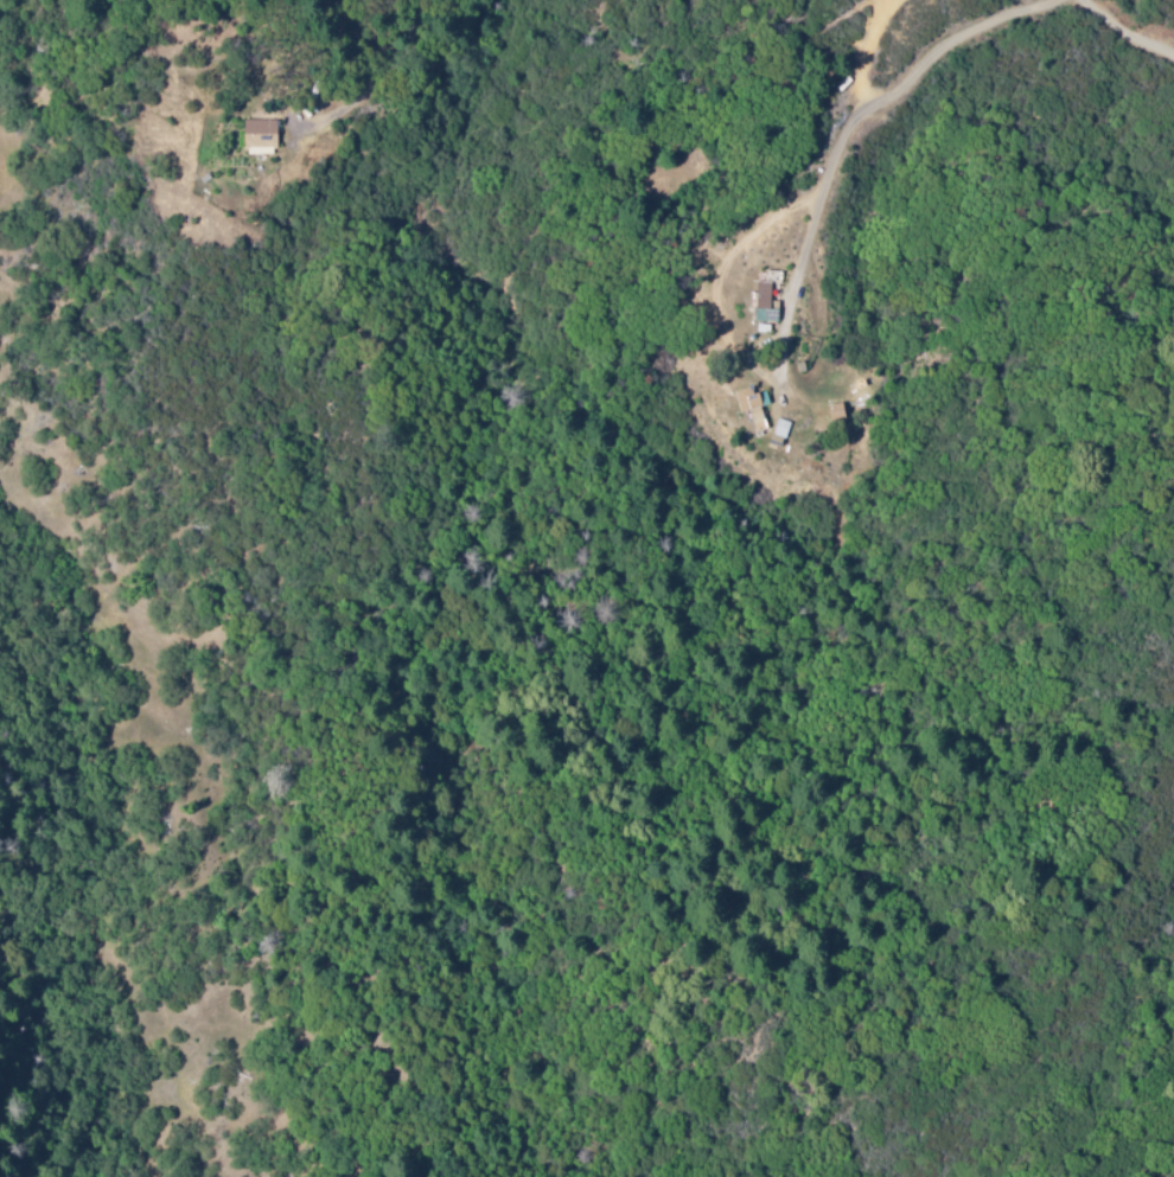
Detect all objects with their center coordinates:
road: (1128, 31)
building: (257, 135)
building: (761, 303)
building: (748, 408)

